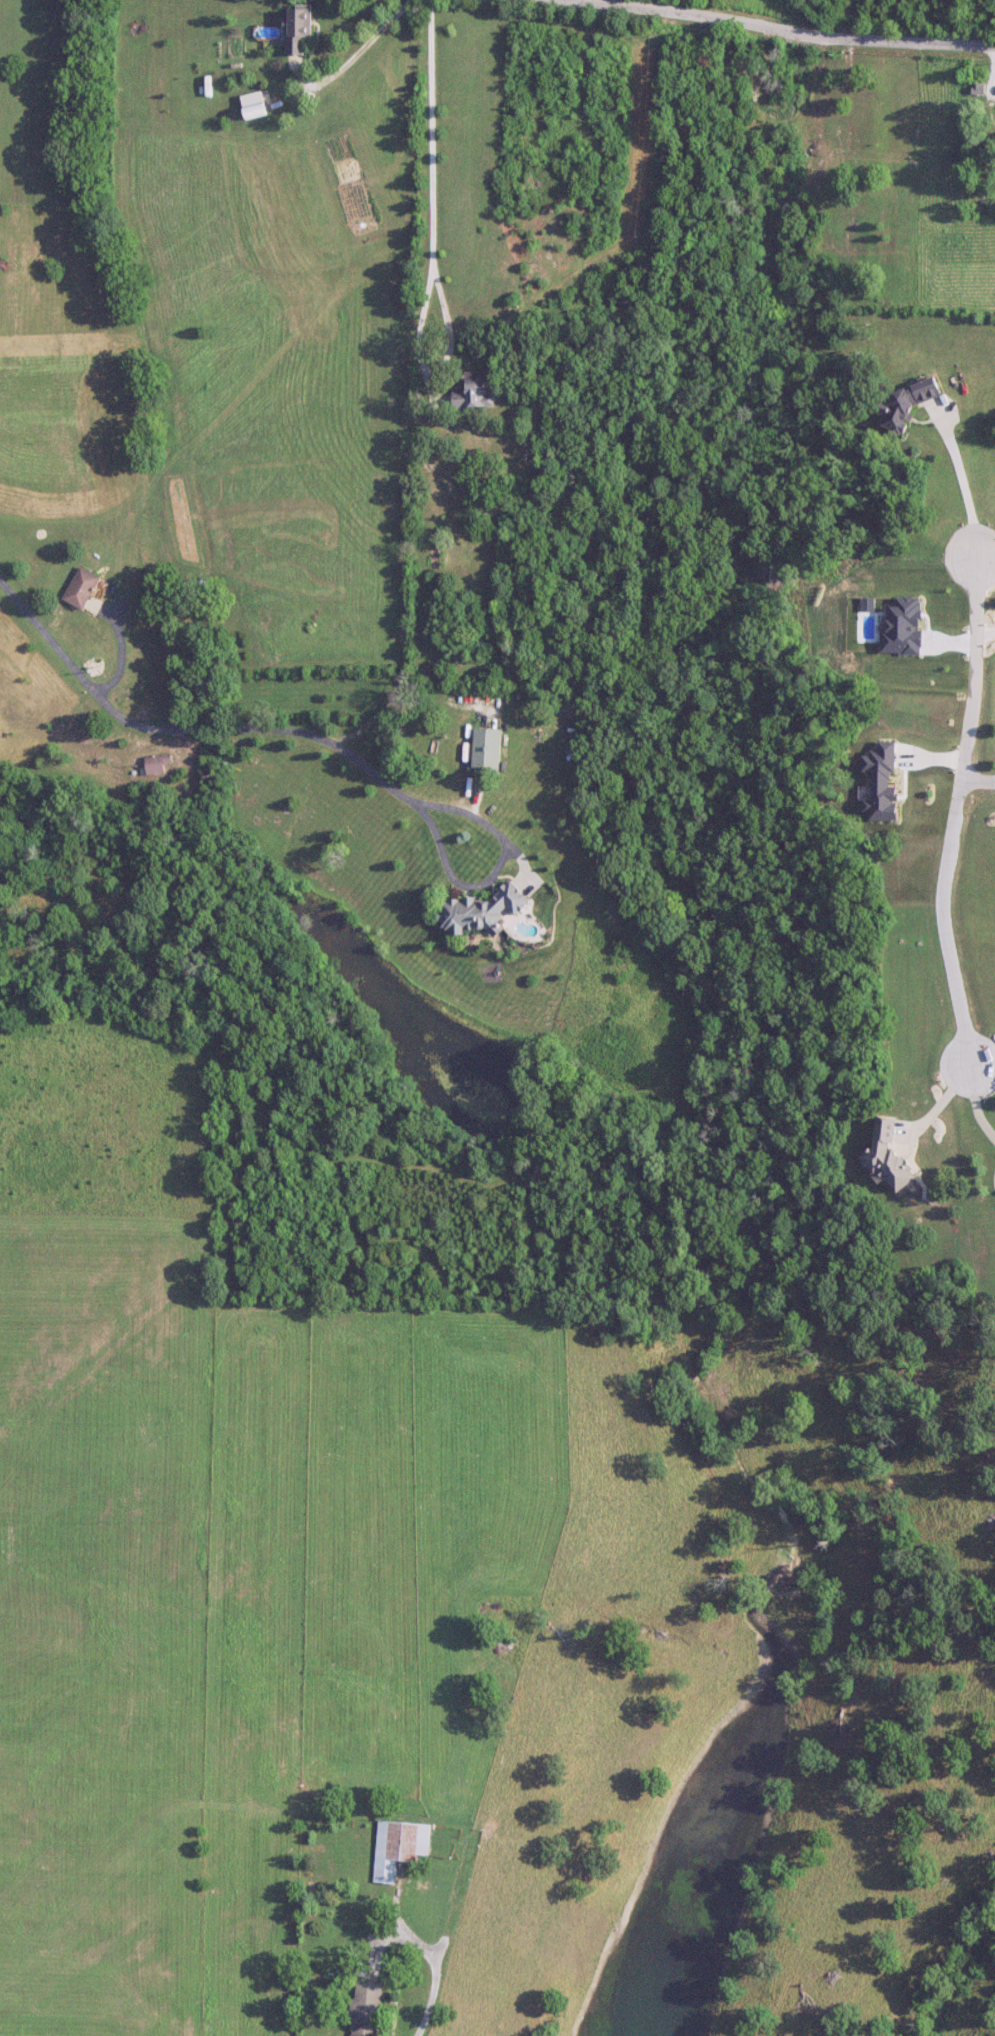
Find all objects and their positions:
road: (744, 24)
building: (301, 29)
road: (358, 59)
building: (258, 111)
road: (431, 234)
building: (477, 392)
building: (911, 403)
road: (960, 479)
building: (196, 587)
building: (84, 588)
road: (984, 634)
road: (65, 662)
building: (489, 750)
building: (161, 763)
road: (978, 777)
road: (402, 796)
road: (955, 810)
building: (484, 911)
road: (937, 1104)
road: (974, 1104)
building: (891, 1155)
building: (401, 1847)
road: (431, 2005)
building: (368, 2009)

